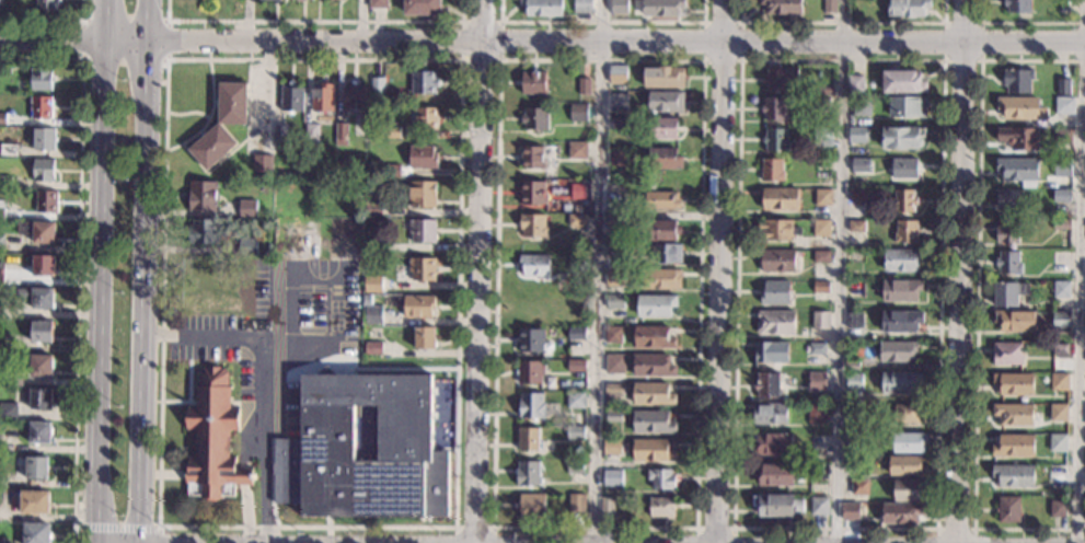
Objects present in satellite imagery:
building: (304, 0)
building: (299, 1)
building: (47, 4)
building: (377, 4)
building: (1, 5)
building: (828, 5)
building: (581, 7)
building: (617, 7)
building: (781, 7)
building: (1015, 7)
building: (420, 8)
building: (542, 8)
building: (661, 8)
building: (905, 9)
building: (1064, 9)
road: (50, 19)
road: (246, 21)
road: (314, 21)
road: (360, 21)
road: (602, 22)
road: (740, 22)
road: (842, 22)
road: (1020, 22)
road: (542, 42)
road: (498, 58)
road: (165, 59)
road: (980, 60)
road: (701, 61)
building: (9, 71)
building: (616, 76)
building: (661, 79)
building: (41, 80)
building: (778, 81)
building: (1016, 81)
building: (532, 83)
building: (902, 83)
building: (423, 84)
building: (854, 85)
building: (378, 88)
building: (584, 88)
building: (1063, 88)
building: (820, 91)
building: (291, 99)
building: (353, 99)
building: (322, 100)
building: (665, 103)
building: (619, 105)
building: (820, 105)
building: (1064, 105)
building: (862, 107)
building: (1019, 108)
building: (42, 109)
building: (907, 109)
building: (773, 111)
building: (578, 115)
building: (423, 119)
building: (3, 120)
building: (534, 120)
building: (619, 126)
building: (222, 127)
building: (661, 130)
building: (311, 134)
building: (392, 134)
building: (280, 135)
building: (340, 136)
building: (856, 136)
building: (1063, 137)
building: (822, 139)
building: (902, 139)
building: (1018, 139)
building: (45, 140)
building: (774, 141)
building: (9, 151)
building: (577, 151)
building: (422, 158)
building: (616, 159)
building: (532, 160)
building: (662, 160)
building: (263, 165)
road: (149, 166)
building: (822, 166)
building: (859, 166)
building: (1062, 169)
building: (904, 170)
building: (771, 171)
building: (1018, 171)
building: (45, 172)
building: (391, 172)
building: (5, 183)
building: (649, 186)
building: (578, 190)
building: (532, 195)
building: (422, 196)
building: (201, 197)
building: (857, 197)
building: (1061, 197)
building: (822, 199)
building: (1007, 199)
building: (780, 200)
building: (661, 201)
building: (903, 203)
building: (47, 204)
building: (373, 209)
building: (247, 210)
building: (2, 211)
building: (576, 222)
building: (614, 223)
building: (1061, 226)
building: (532, 227)
building: (861, 227)
building: (820, 229)
building: (776, 231)
building: (420, 232)
building: (660, 232)
building: (39, 233)
building: (204, 233)
building: (1006, 233)
building: (904, 234)
building: (2, 245)
building: (246, 249)
building: (371, 251)
building: (614, 252)
building: (666, 255)
building: (820, 258)
building: (855, 258)
road: (77, 259)
building: (901, 261)
building: (776, 262)
building: (1060, 263)
building: (1007, 264)
building: (577, 265)
building: (533, 266)
building: (44, 267)
building: (199, 269)
road: (102, 270)
building: (422, 270)
road: (478, 270)
road: (720, 270)
road: (840, 270)
road: (960, 270)
road: (1080, 270)
road: (596, 271)
road: (325, 273)
building: (1, 278)
building: (614, 279)
building: (660, 280)
building: (246, 282)
building: (373, 285)
building: (820, 288)
building: (854, 290)
building: (900, 291)
building: (1061, 291)
building: (775, 293)
building: (1007, 294)
road: (976, 298)
building: (44, 300)
building: (615, 303)
building: (654, 307)
building: (417, 308)
building: (1, 311)
building: (204, 311)
building: (351, 316)
building: (372, 316)
building: (1060, 321)
building: (819, 322)
building: (854, 322)
building: (900, 322)
building: (1014, 322)
building: (775, 324)
building: (43, 333)
building: (613, 335)
building: (576, 336)
building: (424, 338)
building: (653, 338)
parking lot: (282, 342)
building: (530, 342)
building: (0, 343)
building: (372, 349)
building: (817, 350)
building: (1059, 351)
building: (896, 353)
building: (771, 354)
building: (1007, 355)
building: (614, 366)
building: (575, 367)
building: (651, 367)
building: (852, 367)
building: (43, 368)
road: (369, 369)
building: (530, 372)
road: (274, 379)
building: (14, 380)
road: (188, 380)
building: (818, 383)
building: (854, 383)
building: (899, 384)
building: (1059, 384)
building: (767, 385)
building: (1013, 385)
building: (651, 396)
building: (42, 401)
road: (177, 402)
building: (575, 402)
building: (613, 402)
building: (531, 407)
building: (9, 414)
building: (1058, 414)
building: (769, 416)
building: (815, 416)
building: (903, 416)
building: (1013, 416)
building: (651, 424)
building: (855, 424)
building: (574, 432)
building: (41, 435)
road: (147, 438)
building: (529, 440)
building: (212, 441)
building: (853, 441)
building: (771, 444)
building: (909, 444)
building: (1058, 444)
building: (0, 446)
building: (819, 446)
building: (368, 447)
building: (1014, 448)
building: (611, 449)
building: (650, 452)
building: (852, 463)
building: (905, 467)
building: (575, 469)
building: (37, 470)
road: (172, 474)
building: (527, 475)
building: (773, 475)
building: (817, 475)
building: (1013, 477)
building: (612, 480)
building: (1, 481)
building: (661, 482)
building: (859, 488)
building: (908, 493)
building: (36, 505)
building: (576, 505)
building: (530, 506)
building: (775, 506)
road: (245, 507)
building: (607, 508)
building: (819, 508)
building: (1084, 508)
building: (661, 509)
building: (1057, 510)
building: (1007, 511)
building: (850, 513)
building: (901, 515)
road: (115, 527)
road: (473, 527)
road: (158, 528)
road: (714, 528)
road: (732, 528)
road: (954, 530)
building: (37, 533)
road: (158, 535)
building: (2, 541)

